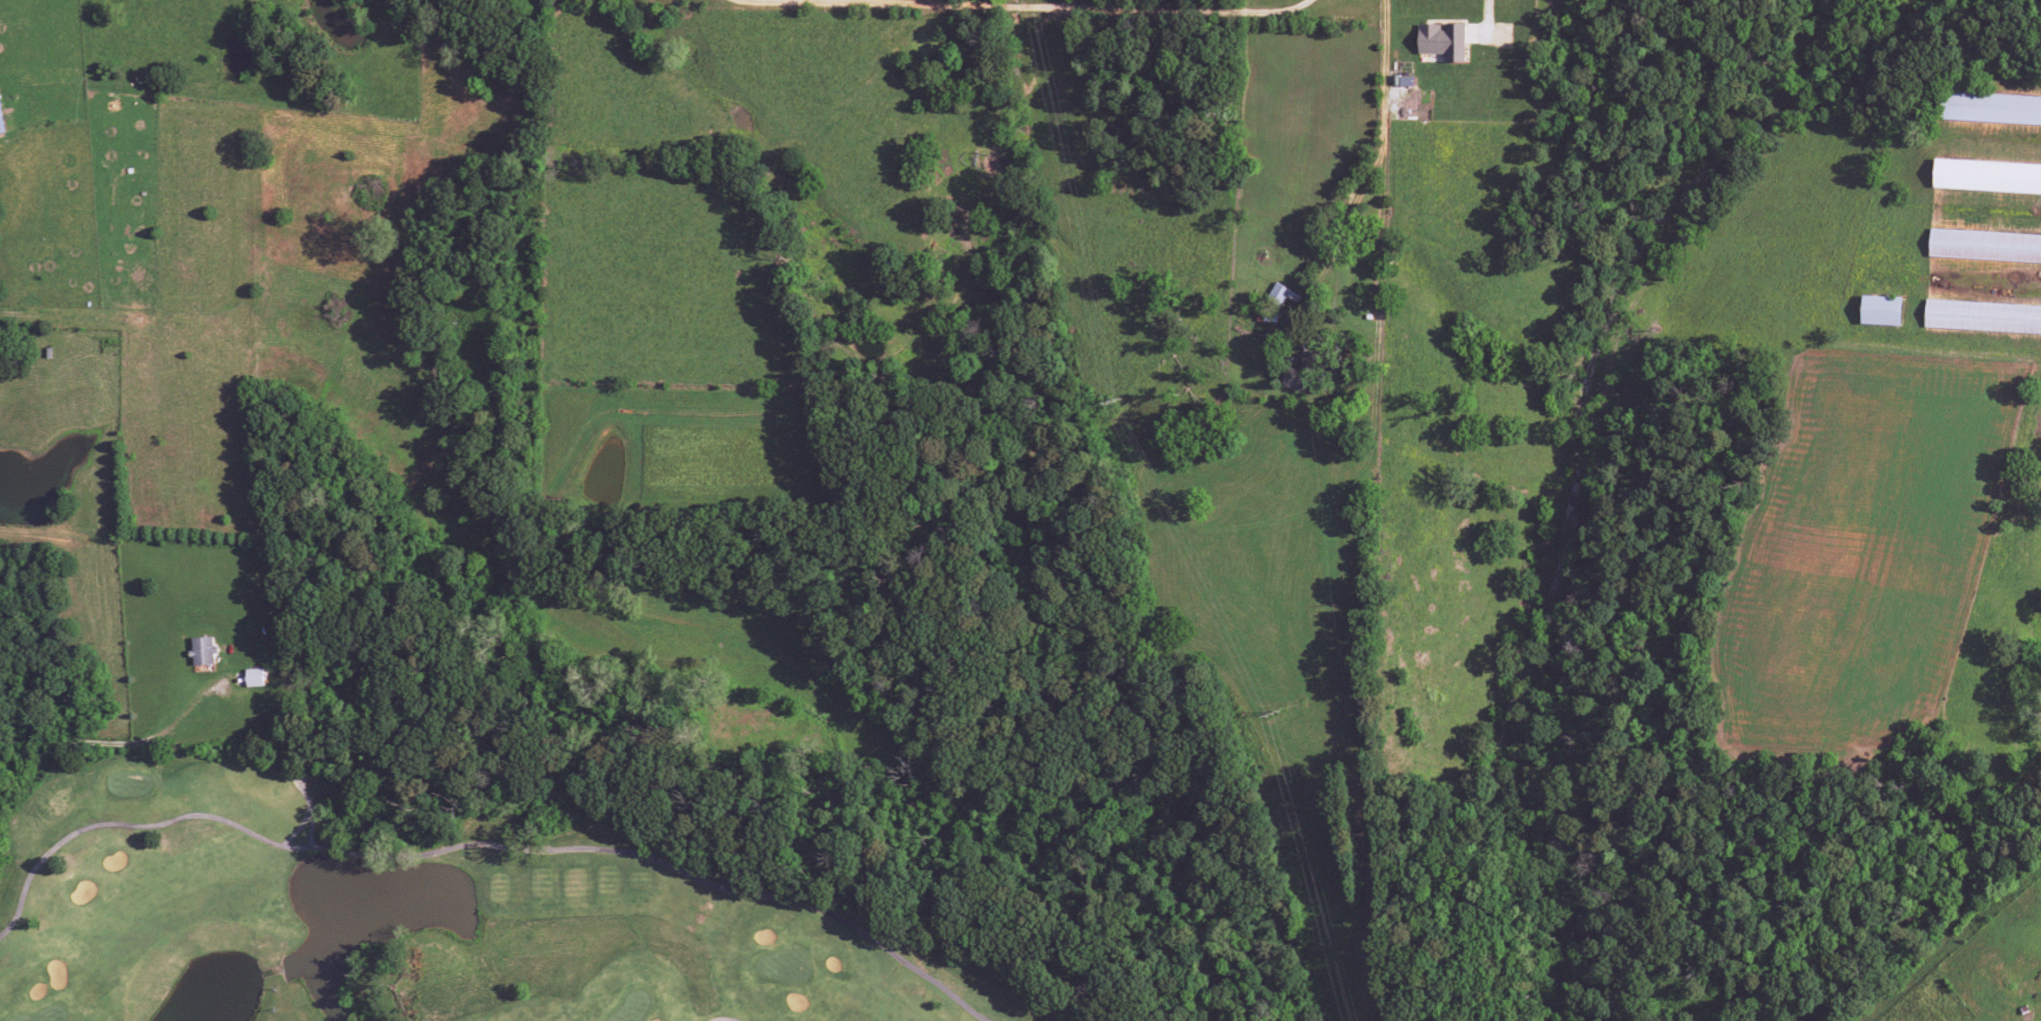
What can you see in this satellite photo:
road: (1026, 9)
building: (1443, 41)
road: (213, 91)
building: (1990, 108)
building: (1, 123)
road: (1377, 151)
building: (1987, 177)
building: (1984, 246)
building: (1284, 295)
building: (1880, 311)
building: (1982, 317)
building: (1295, 371)
building: (202, 650)
building: (254, 677)
road: (77, 741)
park: (429, 915)

